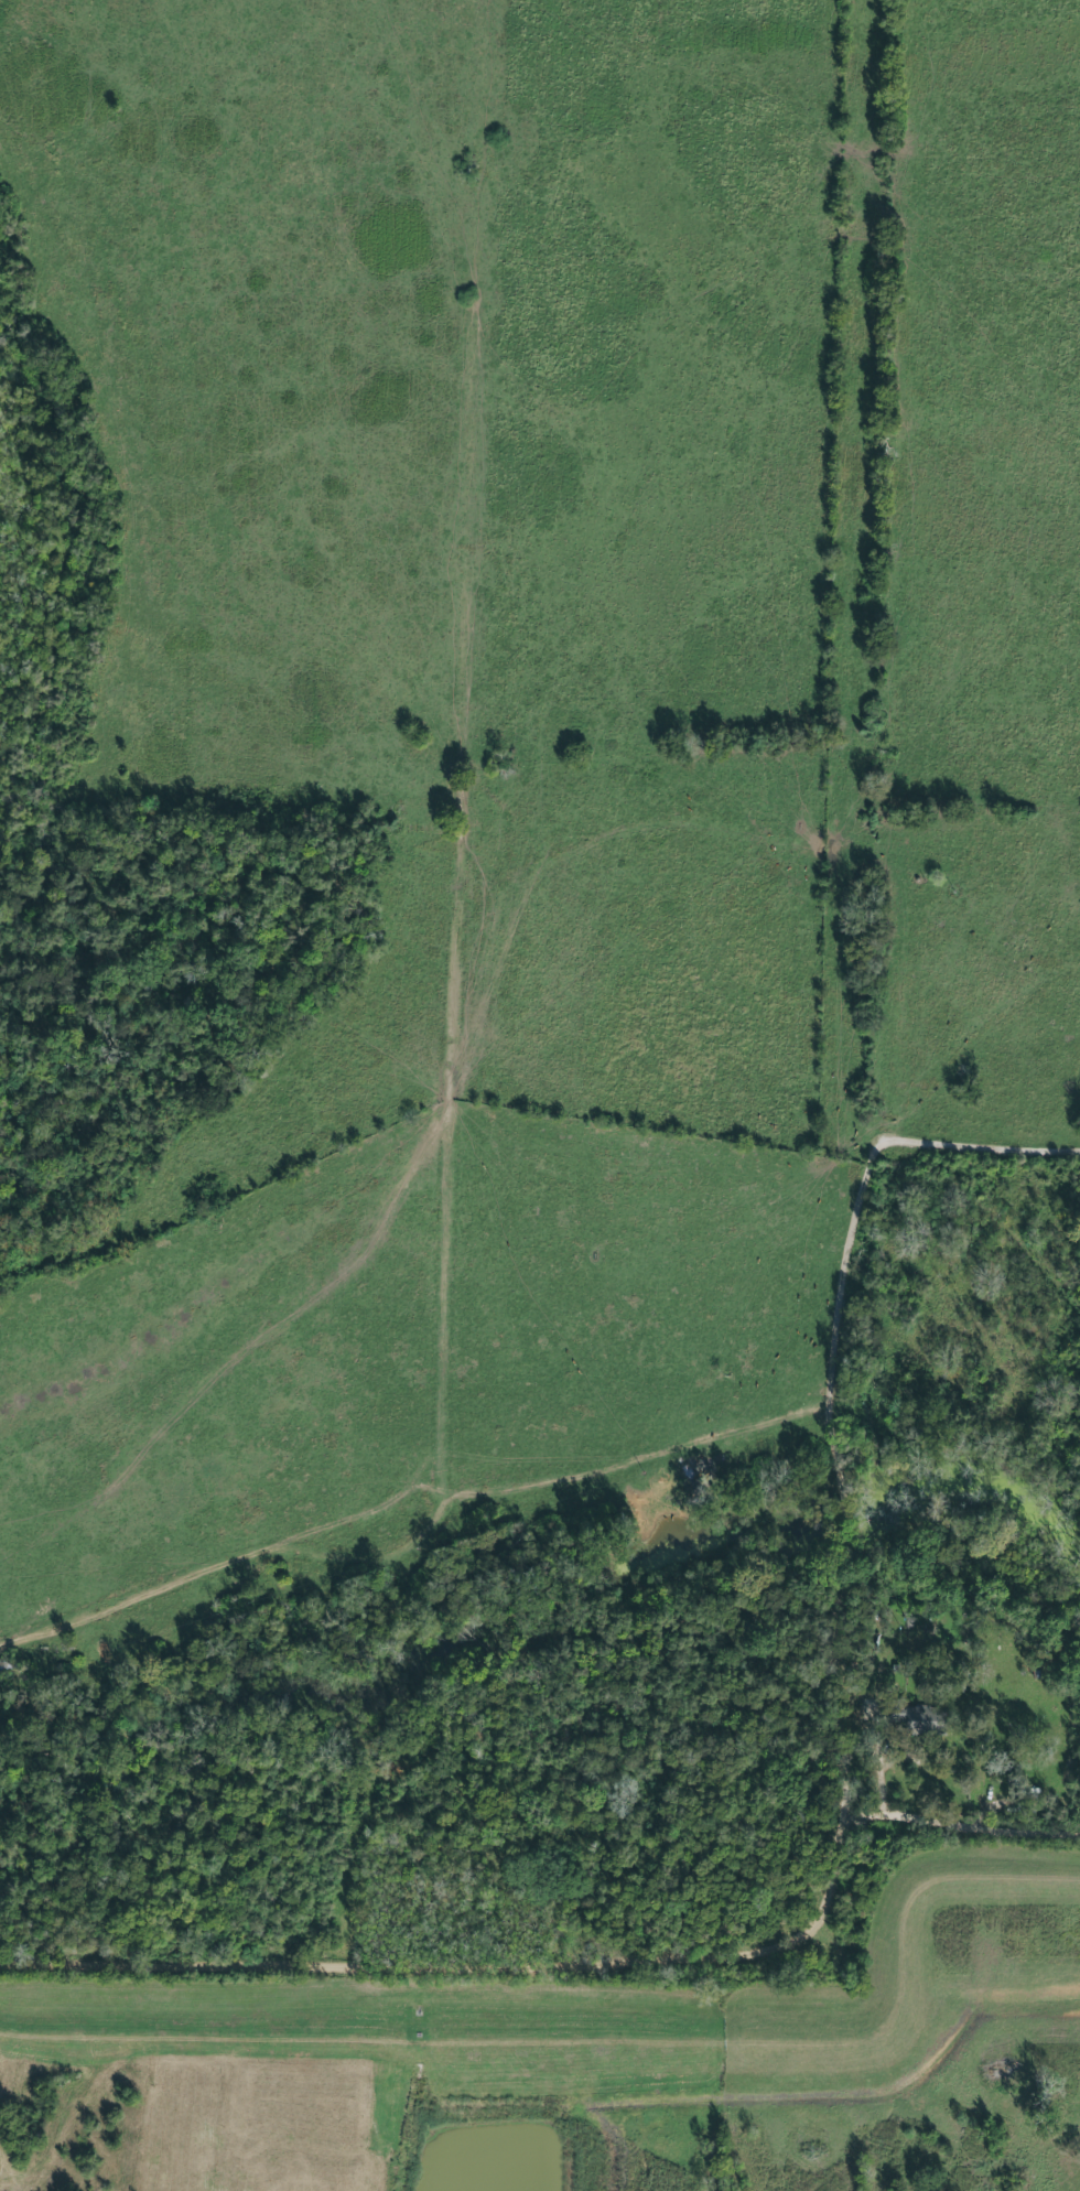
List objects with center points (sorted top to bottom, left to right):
road: (469, 1005)
road: (829, 1394)
road: (583, 1966)
road: (908, 2006)

